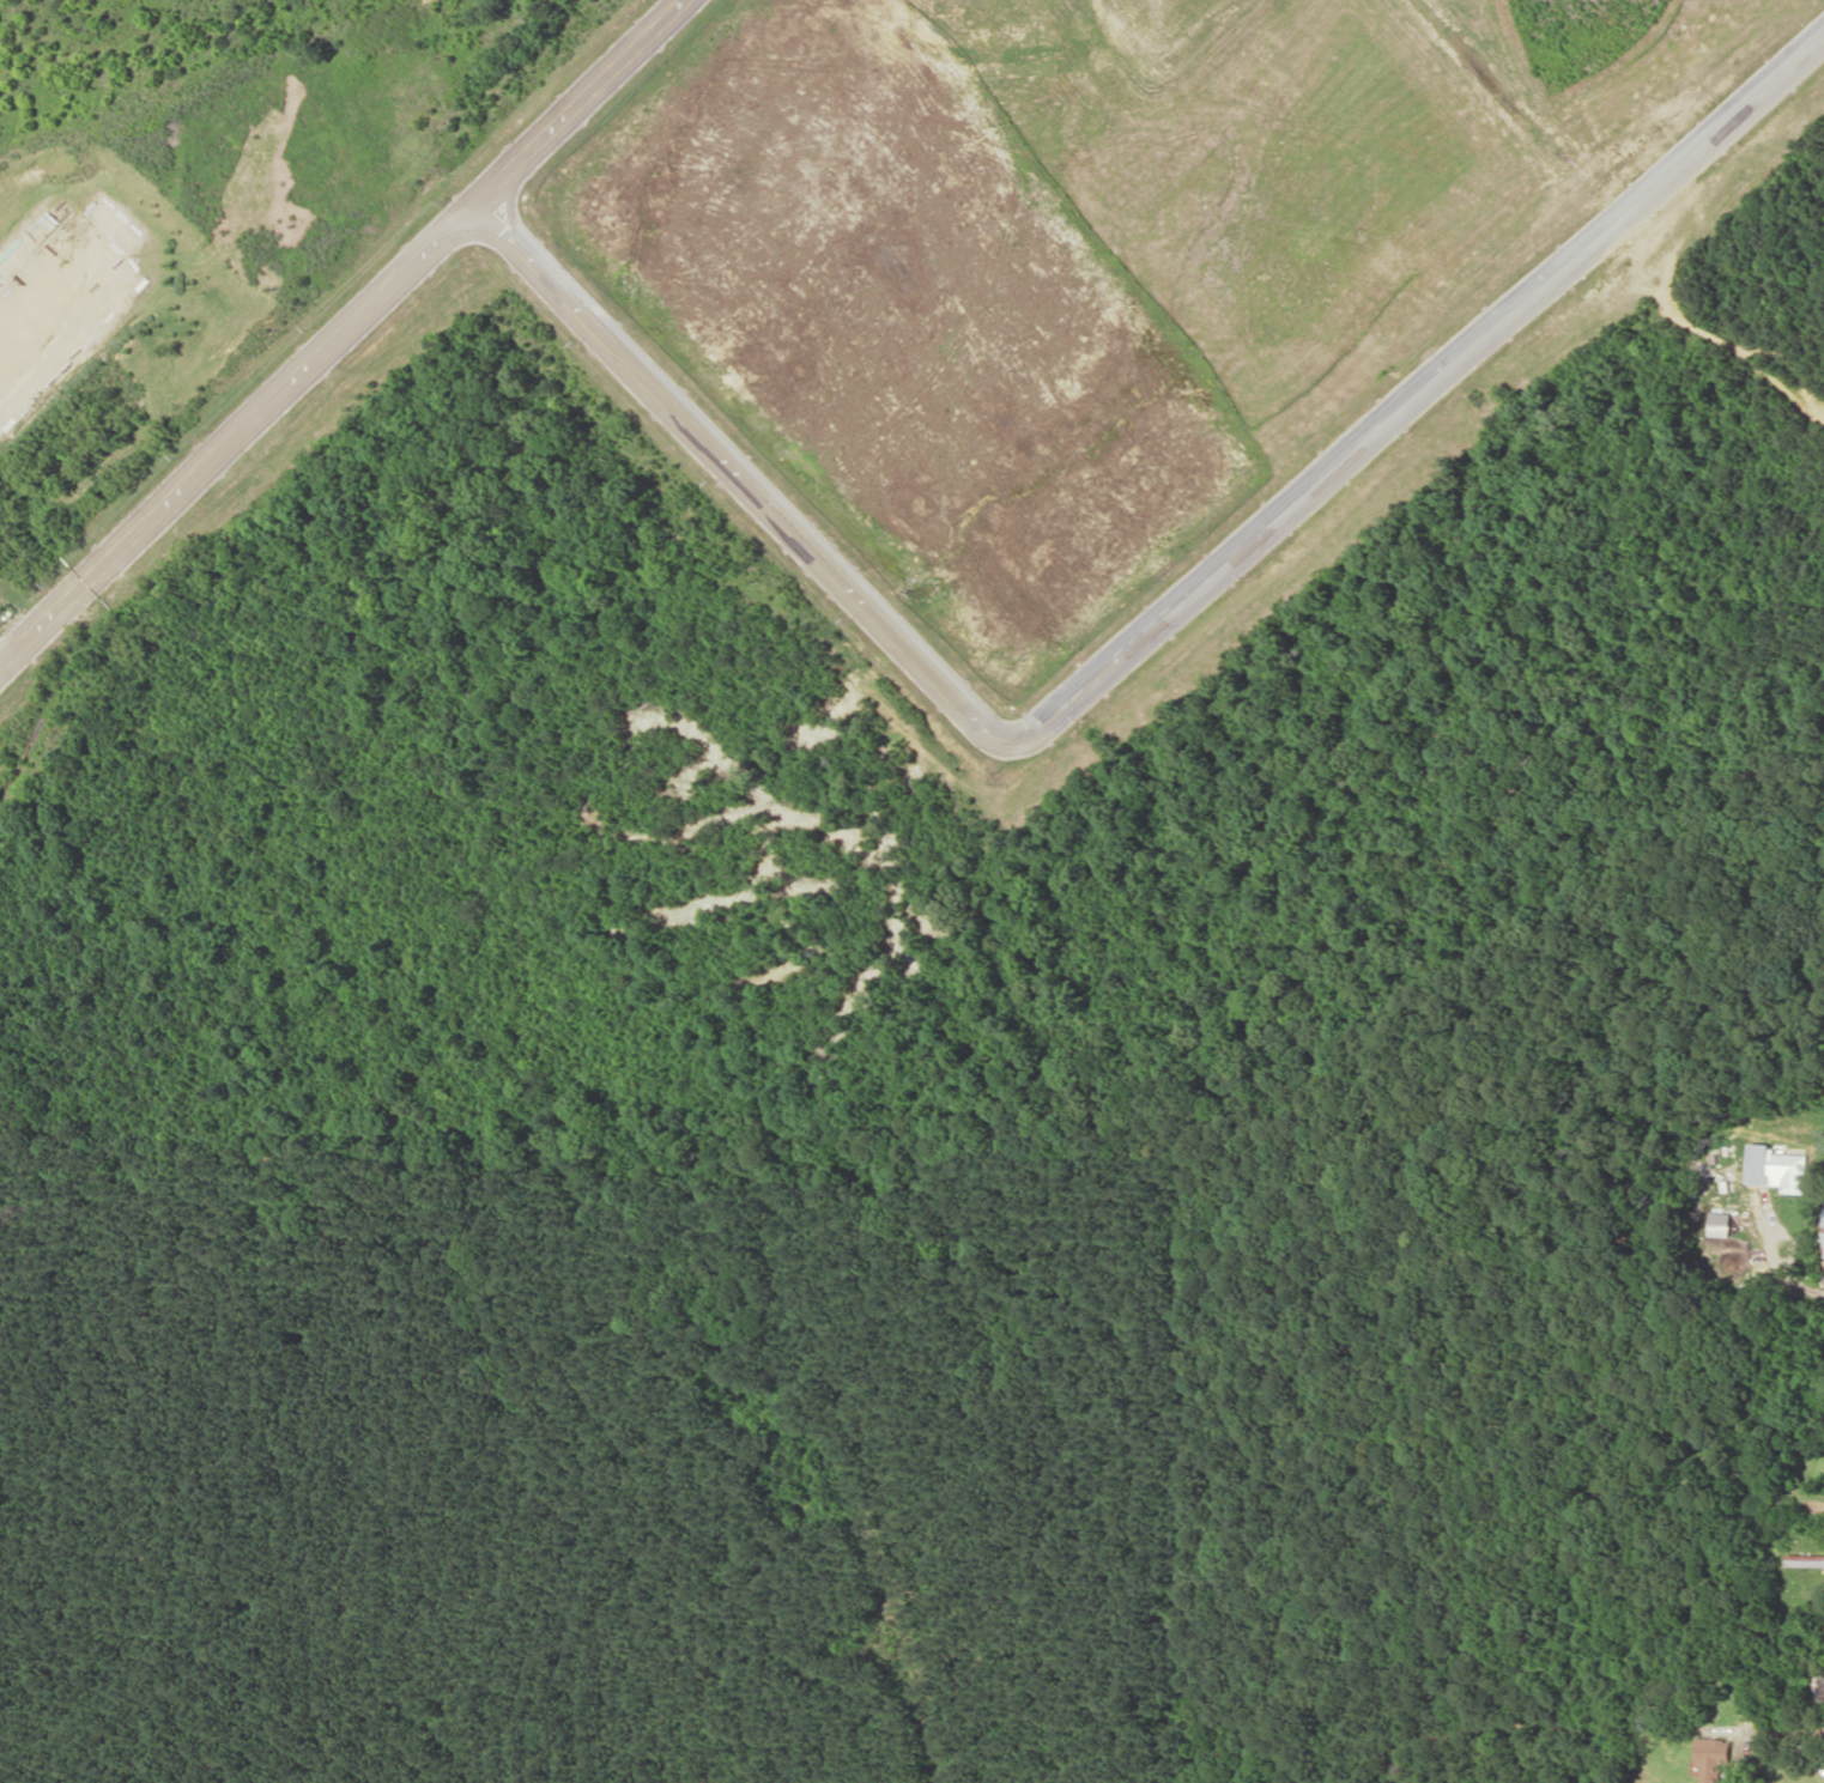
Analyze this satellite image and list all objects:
road: (340, 332)
road: (1134, 641)
building: (1776, 1168)
building: (1721, 1223)
building: (1806, 1559)
building: (1713, 1749)

